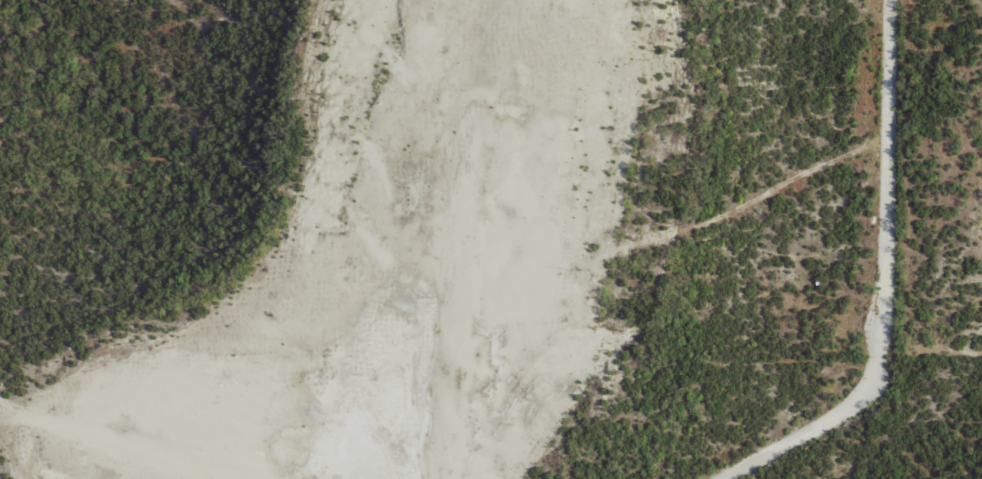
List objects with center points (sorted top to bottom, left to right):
road: (878, 280)

